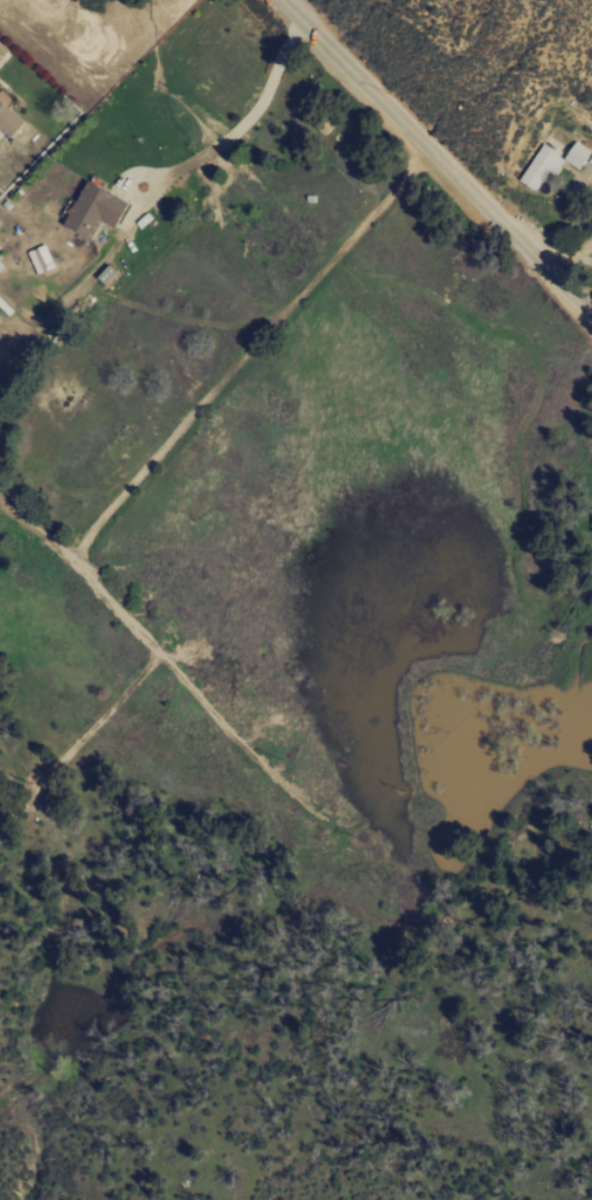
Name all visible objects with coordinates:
building: (13, 118)
road: (247, 122)
building: (575, 154)
road: (434, 158)
building: (540, 166)
building: (93, 210)
road: (566, 253)
building: (44, 259)

